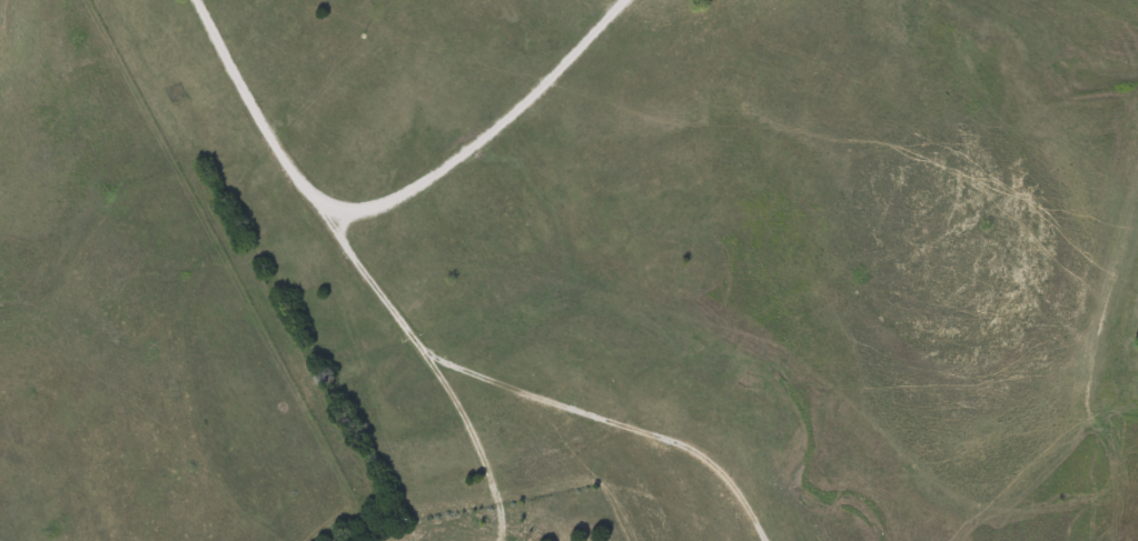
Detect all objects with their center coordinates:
road: (484, 136)
road: (358, 266)
road: (615, 425)

